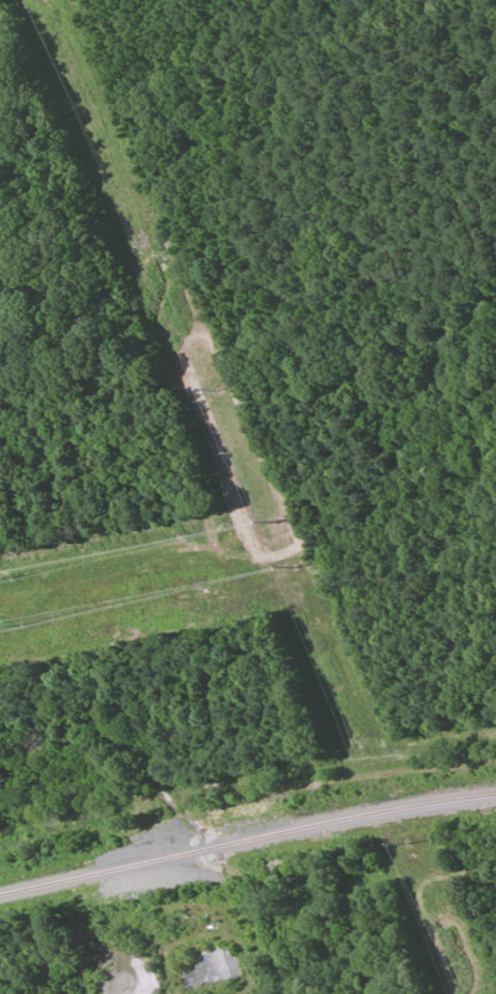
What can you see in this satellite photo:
power tower: (213, 393)
power tower: (406, 844)
railway: (247, 856)

